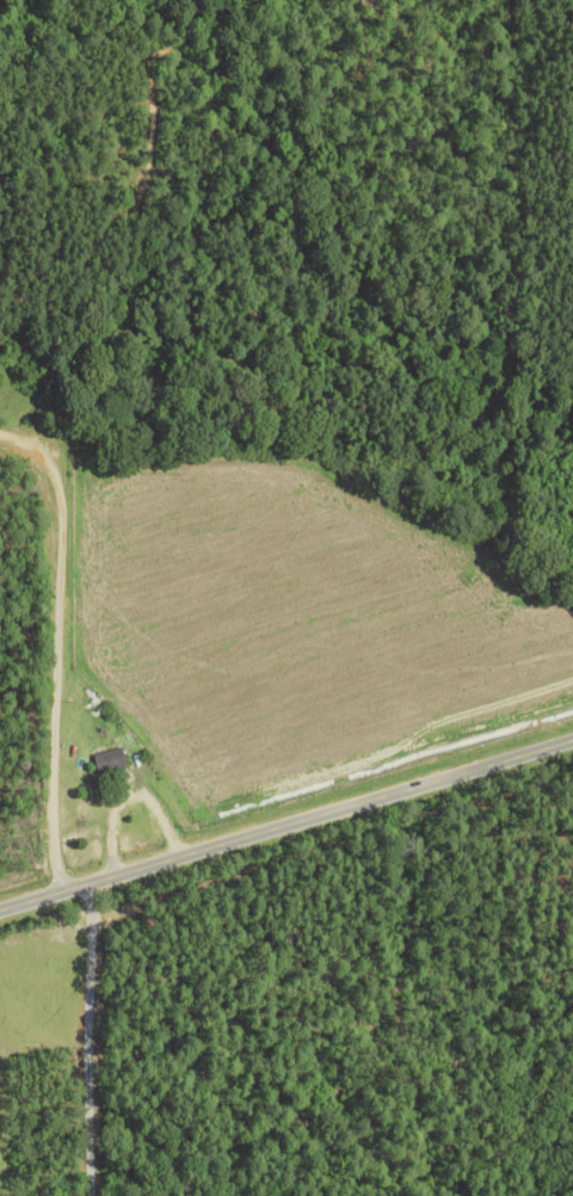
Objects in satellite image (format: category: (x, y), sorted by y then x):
road: (146, 432)
road: (61, 642)
building: (111, 759)
road: (285, 818)
road: (86, 1036)

